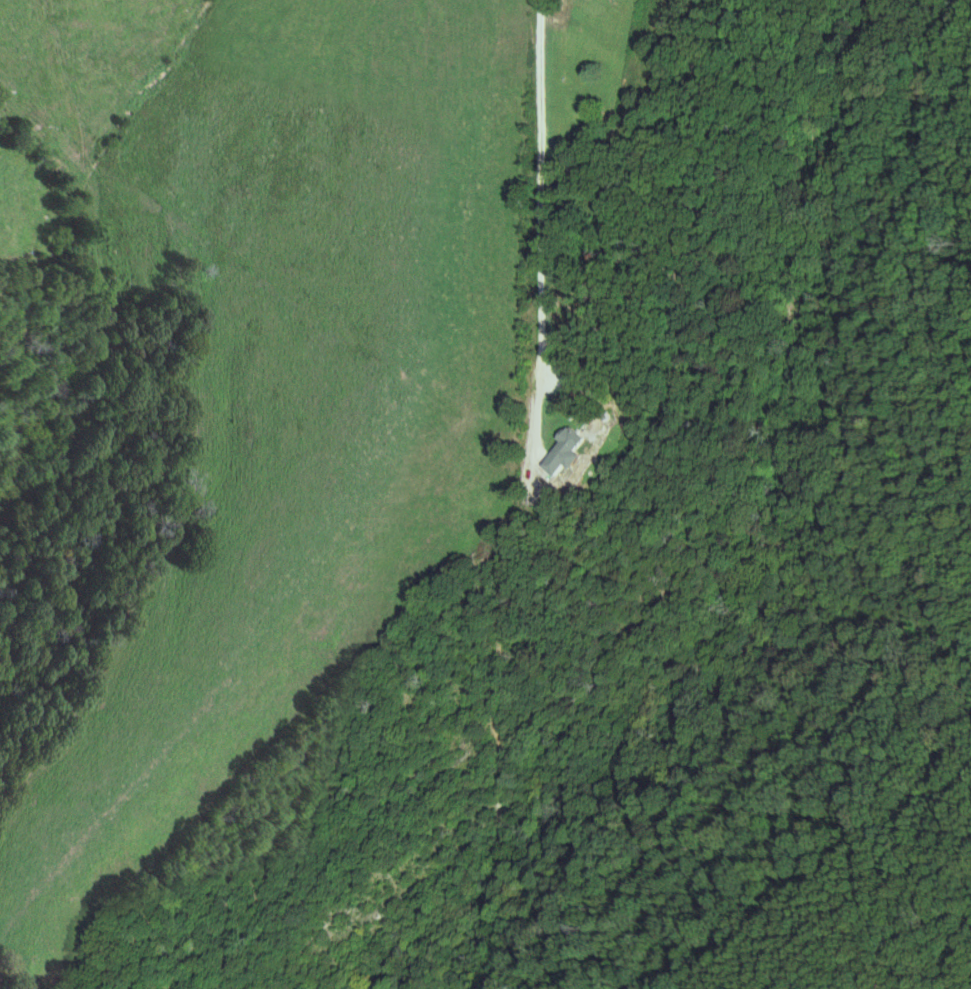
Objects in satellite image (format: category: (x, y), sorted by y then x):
road: (536, 242)
building: (561, 450)

